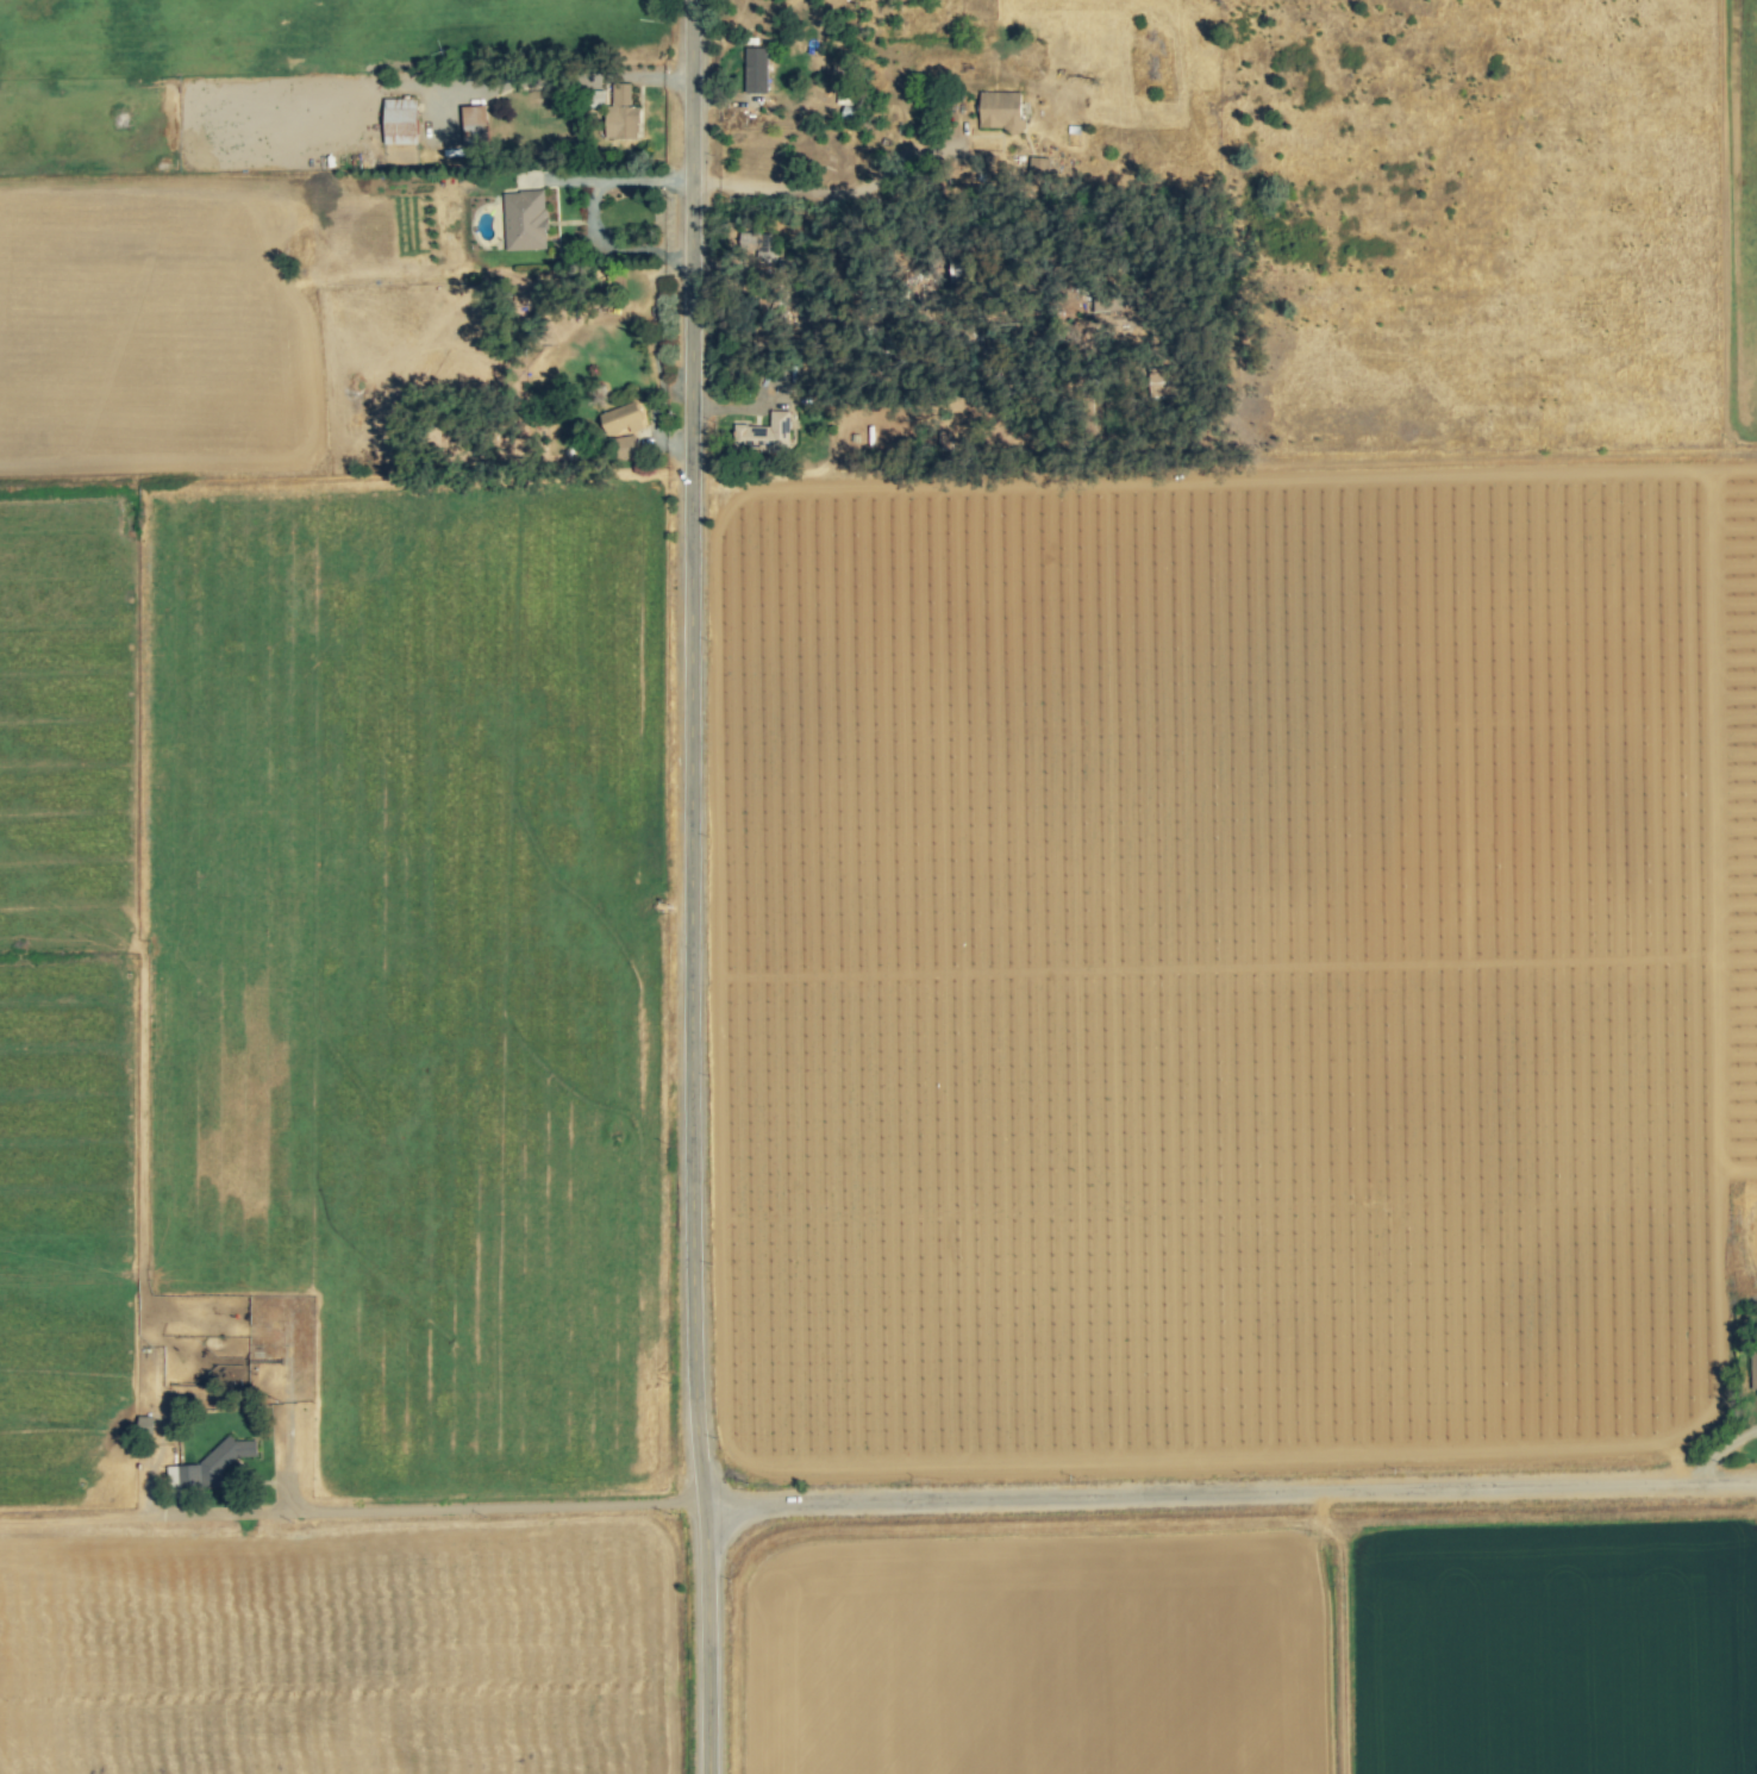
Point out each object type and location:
building: (755, 69)
road: (564, 75)
building: (1000, 110)
building: (620, 112)
building: (399, 121)
building: (474, 124)
building: (1038, 167)
road: (811, 194)
road: (593, 214)
building: (525, 219)
building: (621, 419)
building: (764, 431)
building: (624, 446)
road: (700, 887)
building: (1753, 1369)
road: (1038, 1495)

